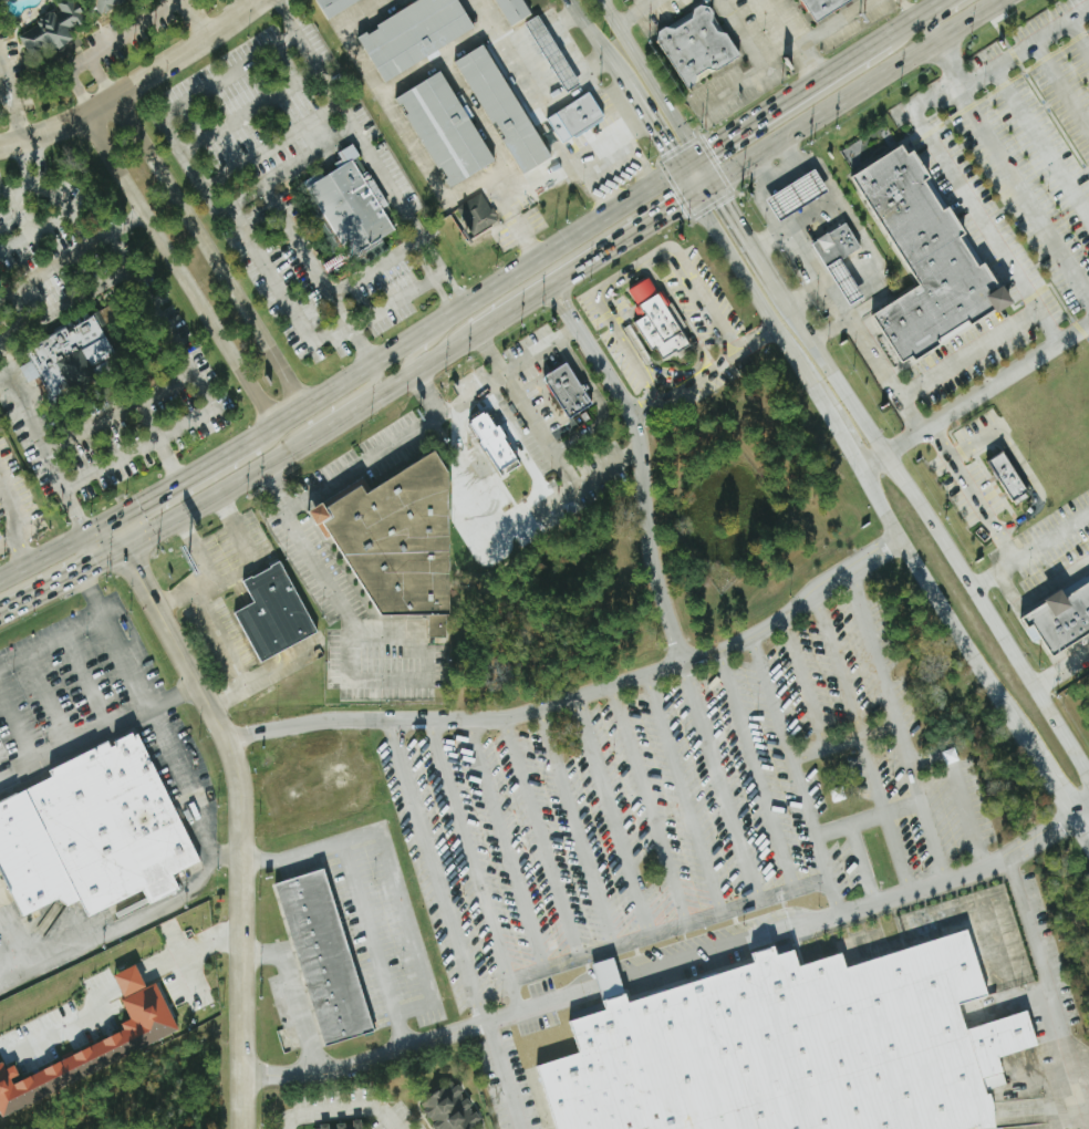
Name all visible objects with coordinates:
road: (266, 1)
building: (104, 4)
building: (332, 7)
building: (819, 7)
road: (907, 9)
building: (510, 10)
road: (636, 12)
road: (942, 17)
road: (913, 18)
road: (199, 19)
road: (97, 20)
building: (53, 27)
road: (133, 27)
road: (746, 32)
building: (411, 34)
road: (1079, 34)
road: (597, 37)
road: (796, 38)
building: (698, 45)
road: (1023, 48)
road: (567, 50)
road: (786, 52)
building: (549, 53)
building: (514, 71)
road: (413, 73)
road: (102, 76)
road: (651, 76)
road: (75, 80)
road: (139, 83)
road: (458, 84)
road: (854, 90)
road: (1059, 93)
road: (780, 102)
road: (11, 103)
road: (252, 107)
building: (499, 108)
building: (572, 117)
road: (407, 126)
building: (443, 128)
parking lot: (1045, 131)
road: (656, 133)
road: (634, 142)
road: (276, 144)
road: (594, 144)
traffic signals: (714, 145)
road: (1040, 146)
traffic signals: (666, 149)
road: (372, 154)
road: (30, 162)
road: (291, 168)
road: (1008, 169)
road: (620, 173)
road: (207, 180)
road: (961, 190)
building: (799, 194)
gas station: (799, 194)
road: (53, 197)
building: (351, 204)
traffic signals: (677, 204)
traffic signals: (727, 205)
building: (475, 213)
road: (146, 216)
road: (740, 227)
road: (858, 231)
road: (786, 236)
road: (526, 237)
road: (766, 238)
road: (297, 239)
building: (836, 245)
road: (210, 251)
road: (72, 255)
building: (355, 256)
road: (593, 257)
building: (924, 261)
road: (631, 271)
road: (359, 276)
building: (847, 281)
gas station: (847, 281)
road: (563, 293)
road: (393, 298)
road: (551, 301)
road: (758, 302)
road: (65, 304)
road: (466, 308)
building: (653, 321)
road: (756, 340)
road: (360, 345)
road: (418, 351)
road: (488, 353)
building: (70, 360)
road: (509, 369)
road: (940, 371)
road: (6, 372)
road: (241, 372)
road: (702, 377)
road: (428, 390)
building: (567, 391)
road: (199, 396)
road: (973, 400)
road: (335, 406)
road: (654, 411)
road: (909, 415)
road: (43, 439)
road: (843, 441)
road: (301, 444)
building: (500, 454)
road: (363, 460)
road: (169, 462)
road: (873, 462)
road: (561, 463)
road: (1020, 464)
road: (645, 476)
building: (1007, 476)
road: (168, 487)
road: (973, 495)
road: (13, 504)
traffic signals: (139, 504)
traffic signals: (75, 511)
road: (938, 536)
road: (8, 539)
road: (104, 540)
building: (400, 542)
road: (22, 548)
road: (249, 548)
road: (304, 548)
road: (1030, 551)
road: (42, 553)
traffic signals: (94, 563)
traffic signals: (134, 568)
road: (61, 580)
road: (1037, 588)
road: (90, 594)
road: (176, 601)
building: (276, 613)
road: (946, 617)
building: (1061, 618)
road: (96, 620)
road: (714, 654)
road: (226, 655)
road: (838, 666)
road: (1064, 673)
road: (365, 681)
road: (805, 684)
road: (226, 696)
road: (175, 698)
road: (362, 722)
road: (784, 736)
road: (842, 740)
road: (74, 747)
road: (324, 759)
road: (1055, 784)
road: (761, 787)
building: (314, 789)
road: (722, 798)
road: (1080, 804)
road: (688, 809)
road: (886, 814)
road: (307, 815)
road: (653, 820)
road: (969, 822)
road: (1080, 822)
road: (243, 824)
road: (616, 831)
building: (91, 833)
road: (931, 841)
road: (580, 842)
road: (547, 852)
road: (896, 852)
road: (226, 859)
road: (509, 859)
road: (859, 862)
road: (474, 864)
road: (431, 871)
road: (826, 871)
road: (196, 881)
road: (360, 897)
road: (782, 926)
road: (194, 950)
building: (320, 956)
road: (24, 957)
building: (127, 980)
road: (297, 995)
road: (1014, 1007)
building: (794, 1048)
building: (92, 1052)
road: (365, 1056)
road: (500, 1075)
road: (346, 1106)
building: (452, 1110)
road: (286, 1125)
building: (345, 1126)

